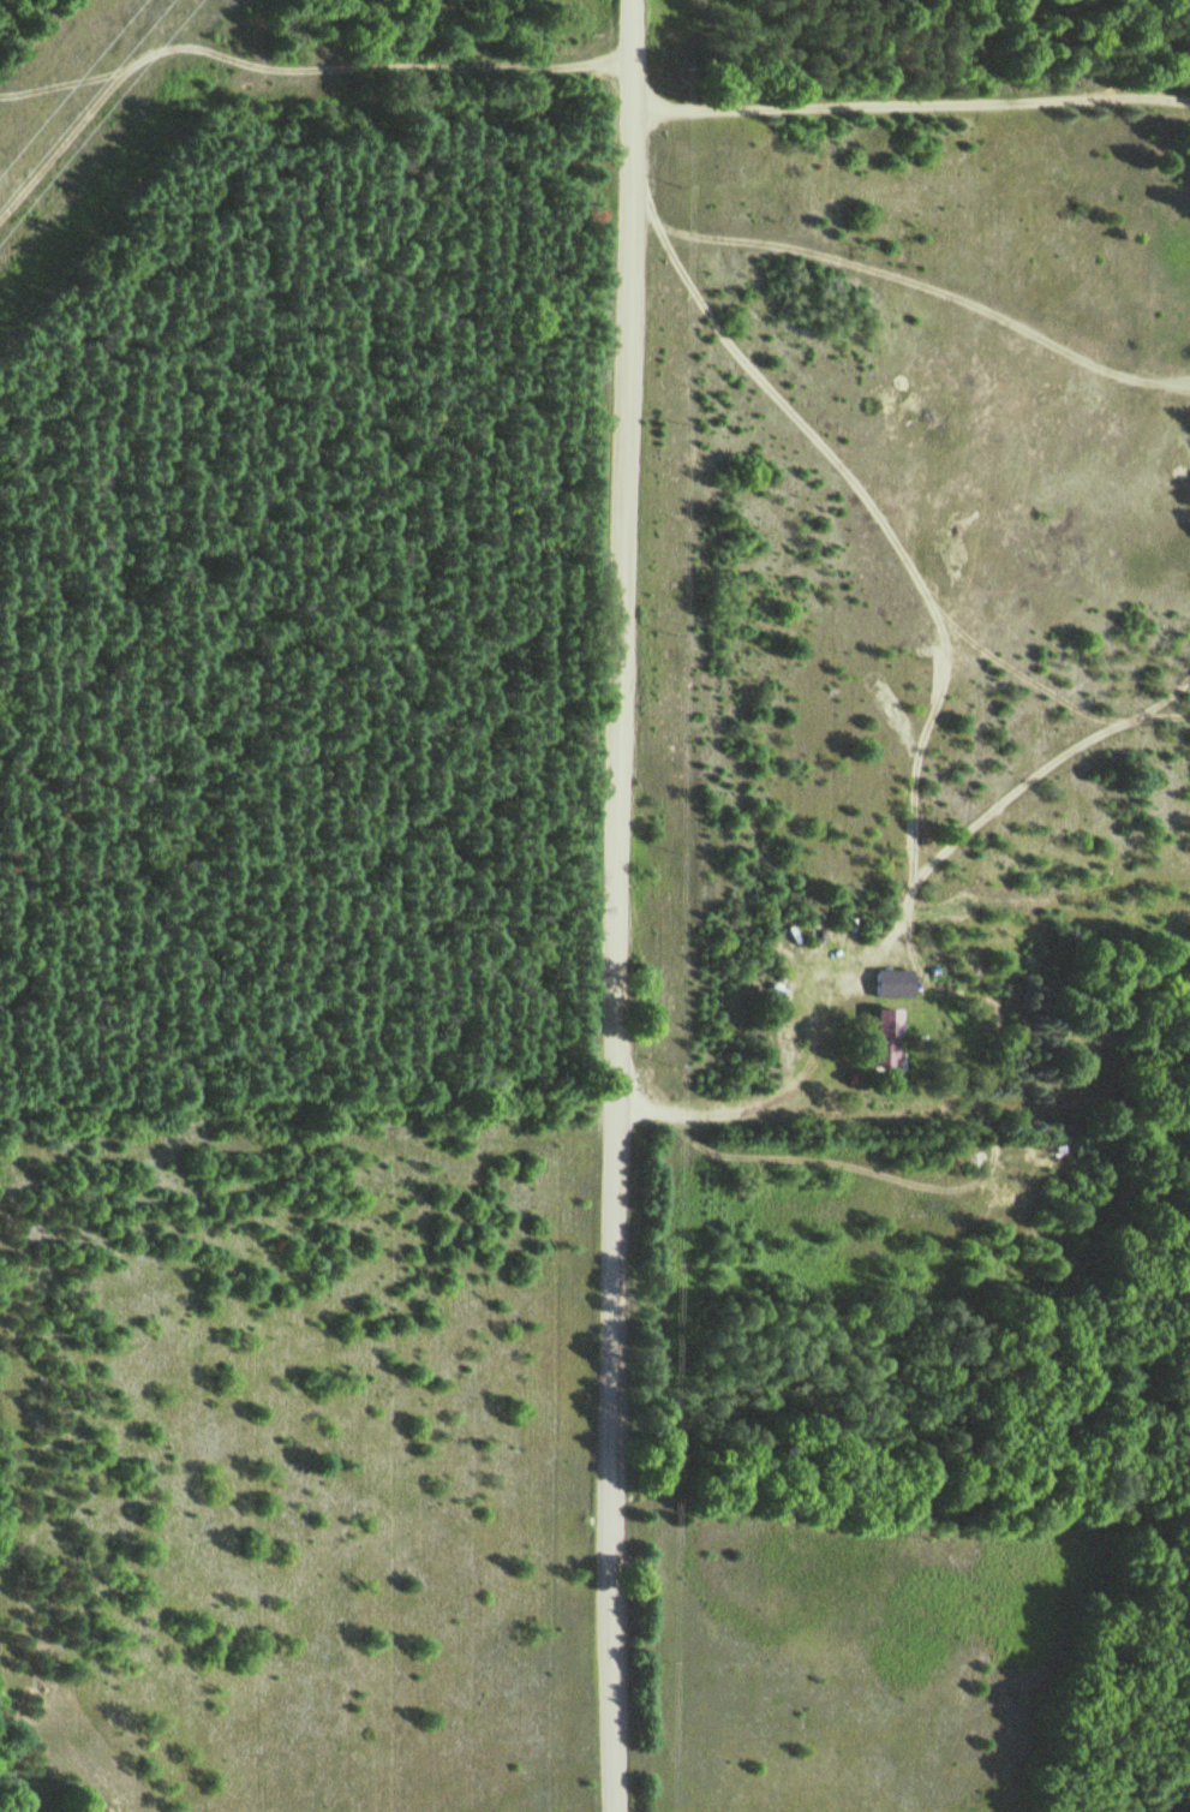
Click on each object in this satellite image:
road: (913, 102)
road: (617, 905)
building: (891, 980)
building: (881, 1035)
road: (755, 1103)

